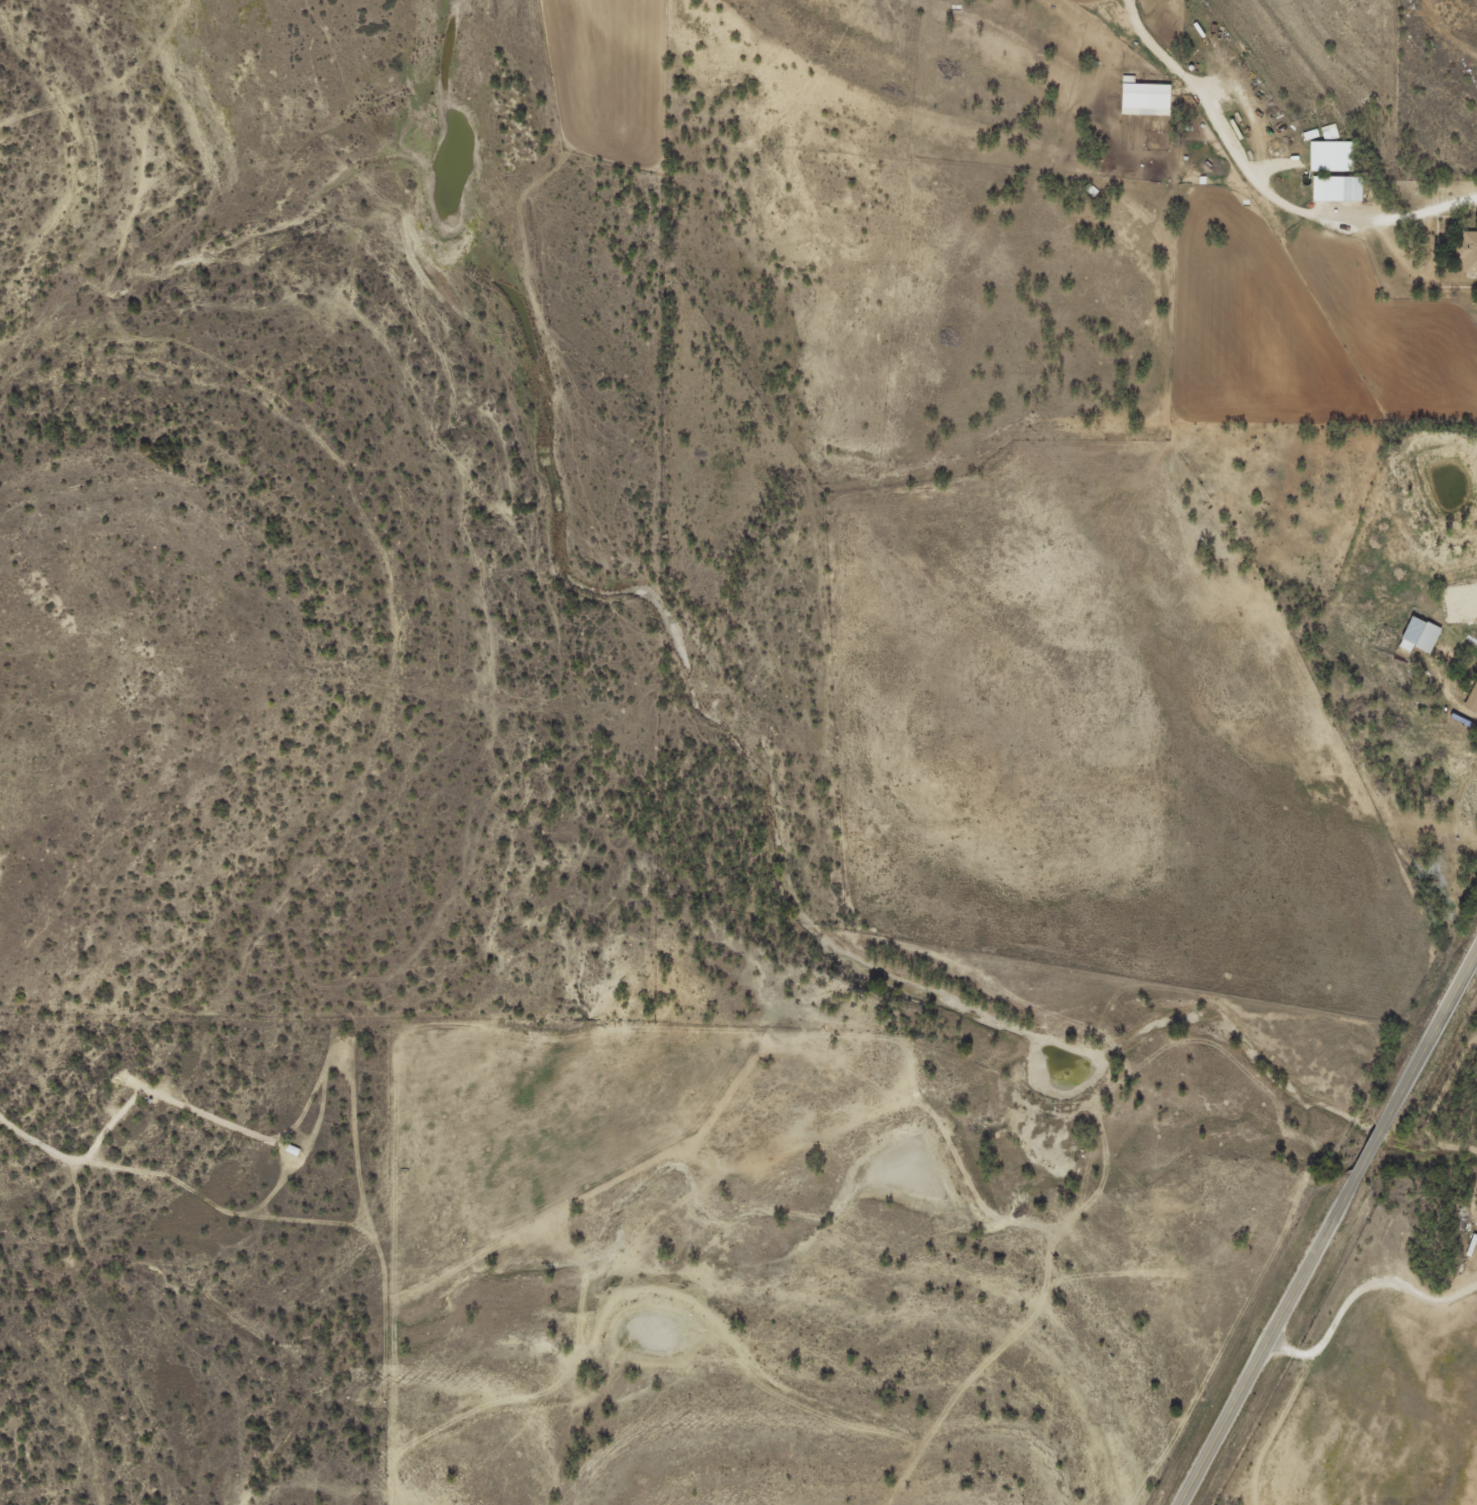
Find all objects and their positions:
building: (1149, 98)
building: (1334, 155)
road: (1262, 182)
building: (1340, 188)
building: (1470, 251)
building: (1423, 634)
building: (1474, 702)
road: (1329, 1230)

